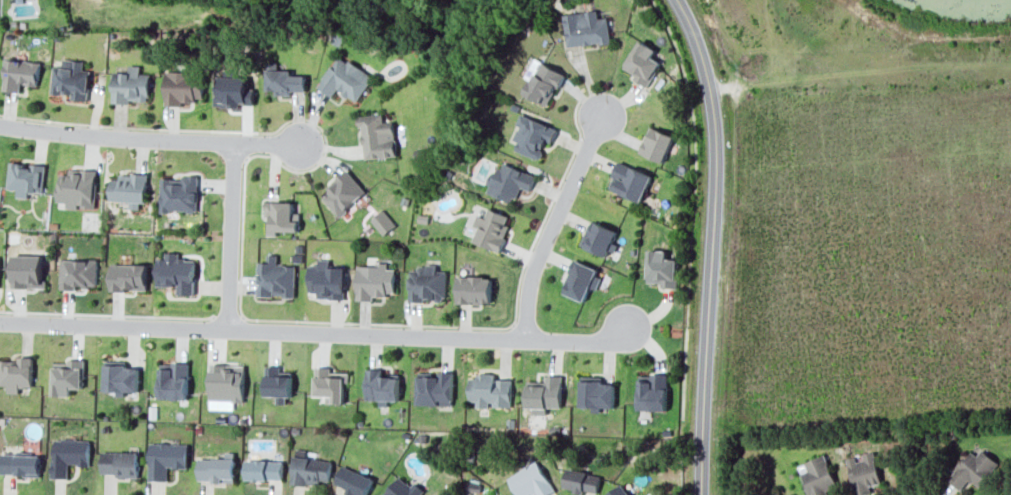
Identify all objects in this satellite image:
building: (586, 28)
building: (644, 62)
building: (21, 74)
building: (71, 79)
building: (345, 79)
building: (283, 80)
building: (545, 83)
building: (131, 85)
building: (182, 87)
building: (235, 91)
building: (533, 135)
building: (377, 136)
road: (152, 138)
building: (657, 144)
building: (25, 178)
building: (630, 181)
building: (509, 182)
building: (78, 189)
building: (129, 189)
building: (343, 193)
building: (178, 194)
building: (280, 217)
road: (551, 221)
building: (382, 222)
building: (491, 229)
road: (227, 237)
building: (600, 239)
road: (710, 244)
building: (662, 269)
building: (27, 271)
building: (176, 272)
building: (79, 273)
building: (128, 276)
building: (275, 278)
building: (327, 279)
building: (582, 280)
building: (374, 281)
building: (427, 283)
building: (475, 289)
road: (319, 335)
building: (16, 373)
building: (67, 376)
building: (120, 377)
building: (173, 380)
building: (278, 383)
building: (329, 383)
building: (225, 384)
building: (382, 386)
building: (435, 388)
building: (490, 391)
building: (652, 391)
building: (596, 393)
building: (544, 394)
building: (69, 455)
building: (166, 458)
building: (119, 463)
building: (20, 464)
building: (217, 468)
building: (264, 469)
building: (309, 469)
building: (974, 469)
building: (864, 472)
building: (817, 475)
building: (530, 480)
building: (353, 481)
building: (581, 481)
building: (403, 489)
building: (620, 491)
building: (778, 494)

